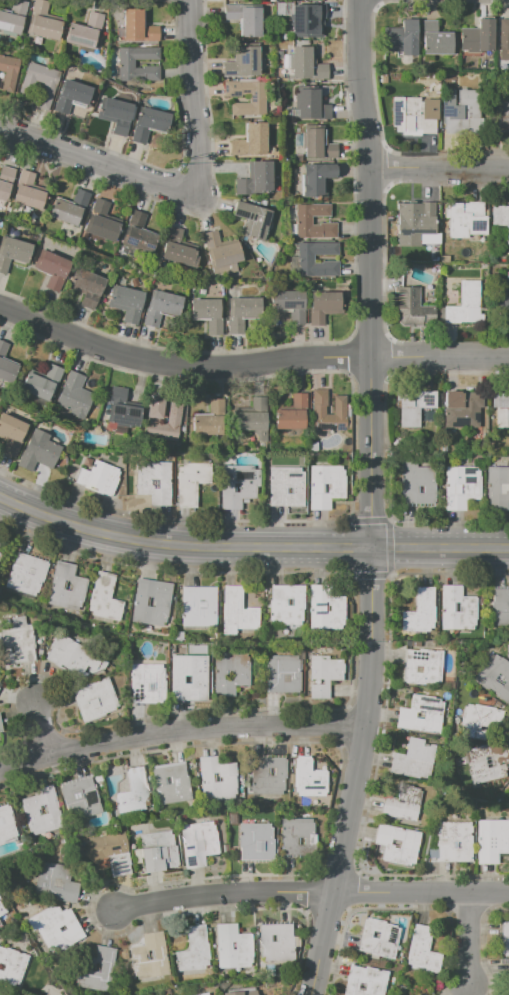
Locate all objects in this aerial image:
road: (441, 0)
building: (279, 9)
building: (13, 18)
building: (305, 18)
building: (245, 19)
building: (43, 22)
building: (138, 28)
building: (84, 32)
building: (478, 37)
building: (400, 39)
building: (503, 39)
building: (436, 40)
building: (278, 45)
building: (284, 47)
building: (278, 54)
building: (244, 62)
building: (126, 64)
building: (285, 64)
building: (278, 65)
building: (305, 65)
building: (10, 73)
road: (373, 78)
building: (280, 79)
building: (50, 88)
building: (72, 97)
road: (193, 97)
building: (256, 100)
building: (310, 105)
building: (290, 112)
building: (115, 114)
building: (415, 114)
building: (468, 114)
building: (500, 117)
building: (148, 124)
building: (297, 140)
building: (250, 141)
building: (318, 145)
road: (447, 154)
road: (97, 162)
road: (439, 166)
road: (386, 167)
building: (255, 179)
building: (316, 179)
building: (5, 181)
building: (26, 192)
building: (69, 209)
building: (463, 218)
building: (501, 219)
building: (252, 221)
building: (303, 221)
building: (100, 222)
building: (414, 222)
building: (138, 233)
building: (175, 248)
building: (12, 252)
building: (221, 254)
building: (300, 260)
building: (51, 270)
building: (86, 288)
building: (126, 304)
building: (504, 304)
building: (291, 305)
building: (466, 305)
building: (323, 307)
building: (159, 308)
building: (411, 308)
building: (206, 314)
building: (241, 314)
road: (440, 356)
building: (5, 365)
road: (182, 367)
building: (41, 384)
building: (74, 396)
building: (413, 407)
building: (121, 409)
building: (462, 409)
building: (503, 410)
building: (154, 411)
building: (319, 411)
building: (291, 414)
building: (252, 419)
building: (209, 421)
building: (11, 436)
building: (38, 452)
building: (98, 478)
building: (154, 484)
building: (190, 484)
building: (417, 484)
building: (237, 487)
building: (325, 487)
building: (460, 487)
building: (496, 487)
building: (285, 489)
road: (372, 500)
road: (250, 548)
building: (0, 549)
building: (26, 573)
building: (65, 586)
building: (104, 598)
building: (151, 601)
building: (286, 605)
building: (326, 605)
building: (502, 605)
building: (198, 606)
building: (457, 609)
building: (235, 611)
building: (419, 611)
building: (21, 644)
building: (507, 650)
building: (73, 658)
building: (422, 668)
building: (233, 673)
building: (287, 674)
building: (323, 675)
building: (189, 678)
building: (494, 678)
building: (150, 683)
building: (0, 689)
building: (98, 701)
building: (421, 715)
building: (478, 721)
building: (2, 724)
road: (46, 730)
road: (179, 731)
building: (413, 759)
building: (488, 763)
building: (268, 776)
building: (307, 778)
building: (221, 779)
building: (174, 784)
building: (137, 790)
building: (508, 793)
building: (83, 798)
building: (402, 804)
building: (46, 811)
building: (7, 827)
building: (297, 839)
building: (491, 840)
building: (454, 841)
building: (255, 843)
building: (199, 844)
building: (397, 845)
building: (162, 852)
building: (114, 853)
building: (57, 883)
road: (421, 892)
road: (224, 894)
building: (3, 908)
building: (2, 917)
building: (1, 925)
building: (59, 927)
building: (504, 938)
building: (378, 939)
road: (469, 939)
building: (276, 942)
building: (232, 947)
building: (422, 950)
building: (193, 951)
building: (149, 957)
building: (13, 966)
building: (95, 969)
building: (508, 971)
building: (364, 982)
building: (508, 992)
building: (242, 993)
building: (0, 994)
building: (201, 994)

